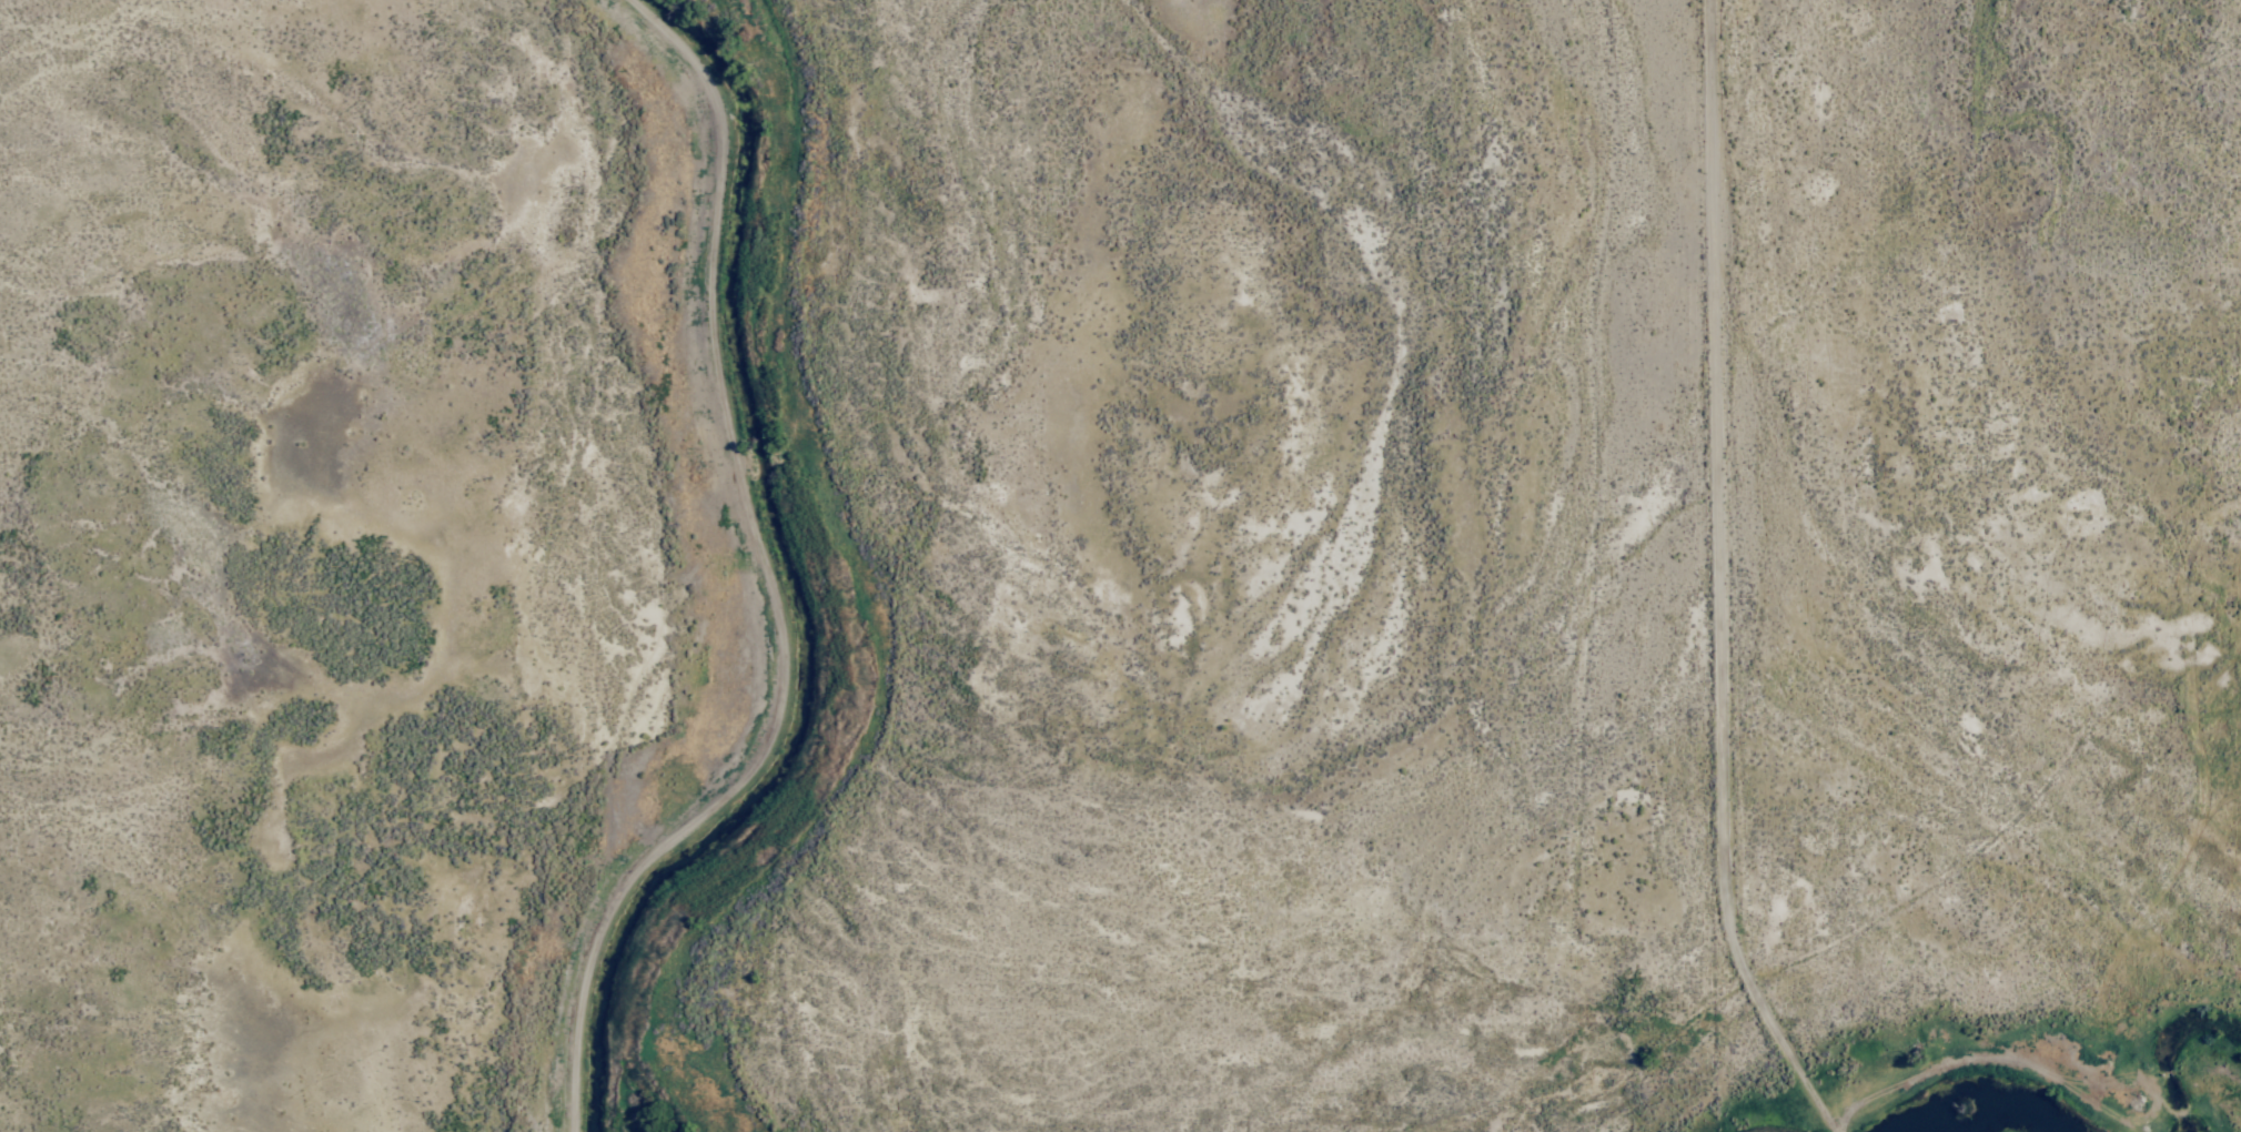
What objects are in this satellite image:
road: (1722, 578)
road: (749, 579)

